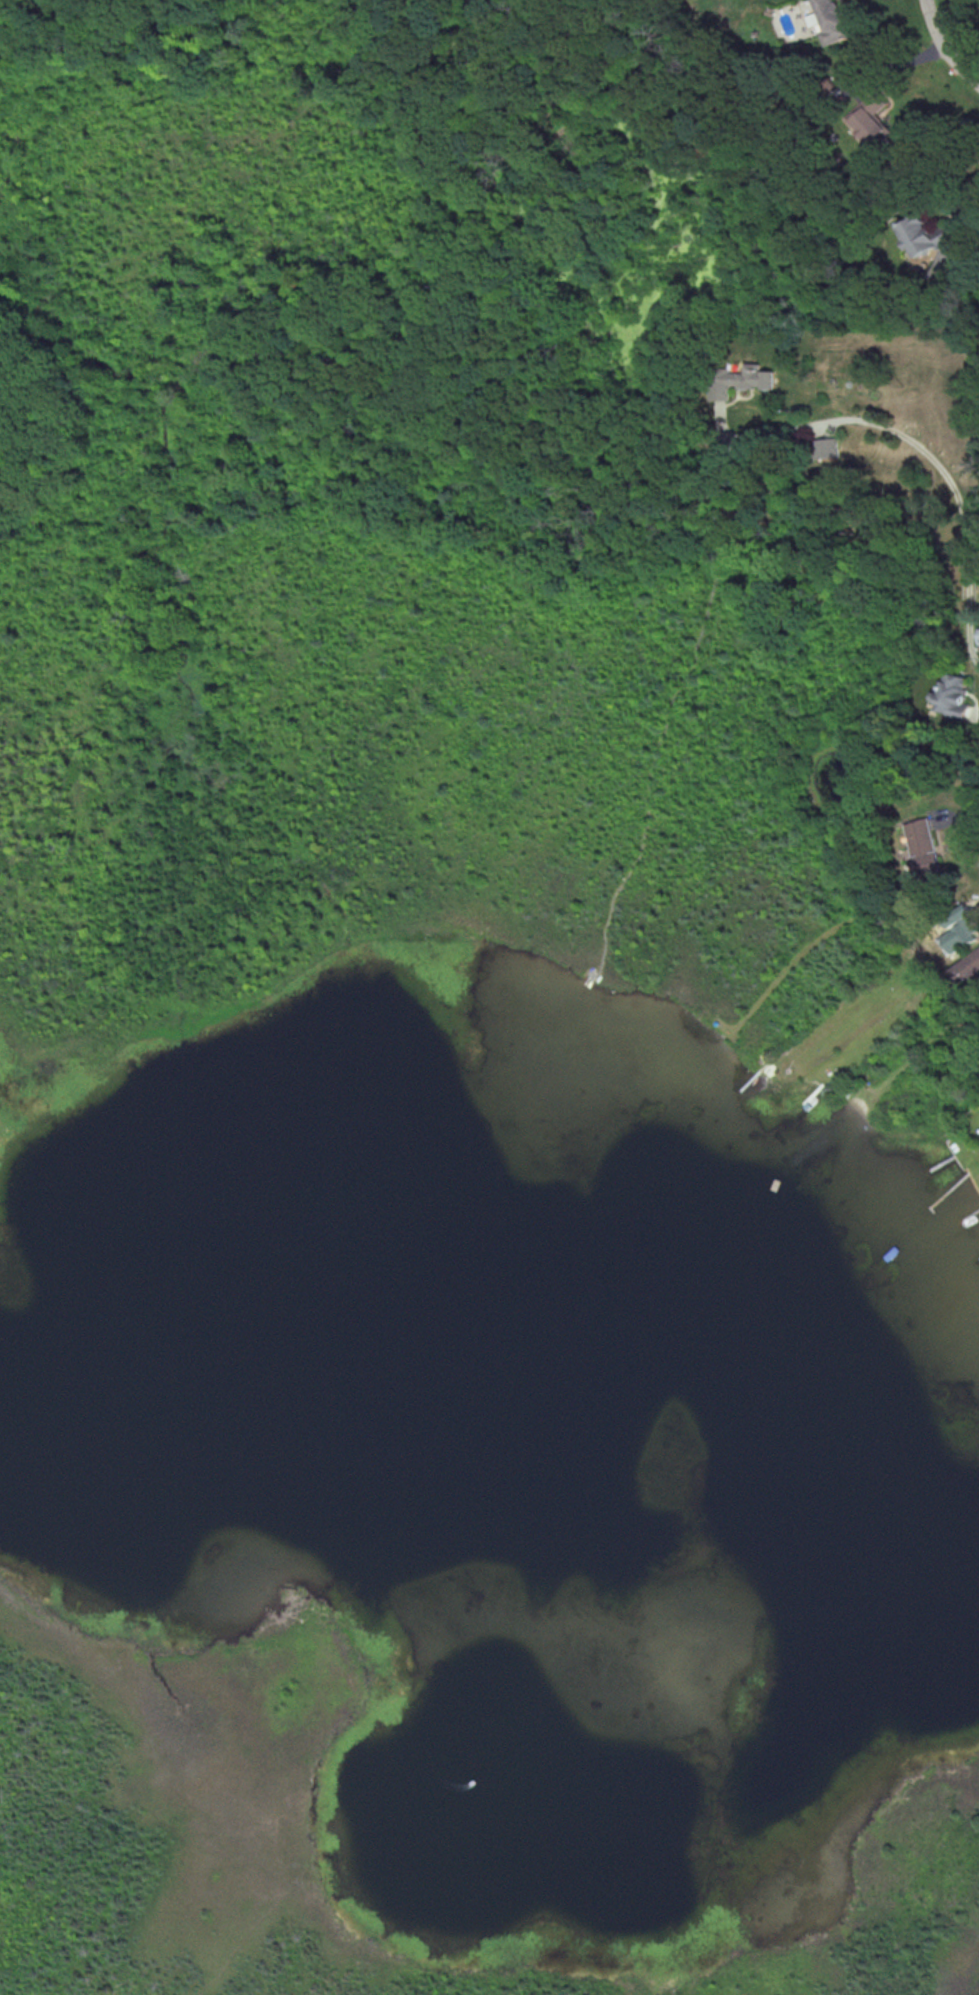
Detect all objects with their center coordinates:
building: (833, 21)
road: (943, 47)
building: (869, 118)
road: (456, 164)
road: (966, 198)
road: (396, 415)
road: (913, 444)
building: (825, 447)
road: (726, 478)
road: (732, 529)
building: (955, 695)
pier: (652, 764)
building: (925, 845)
building: (960, 929)
building: (968, 968)
park: (398, 1067)
river: (506, 1360)

